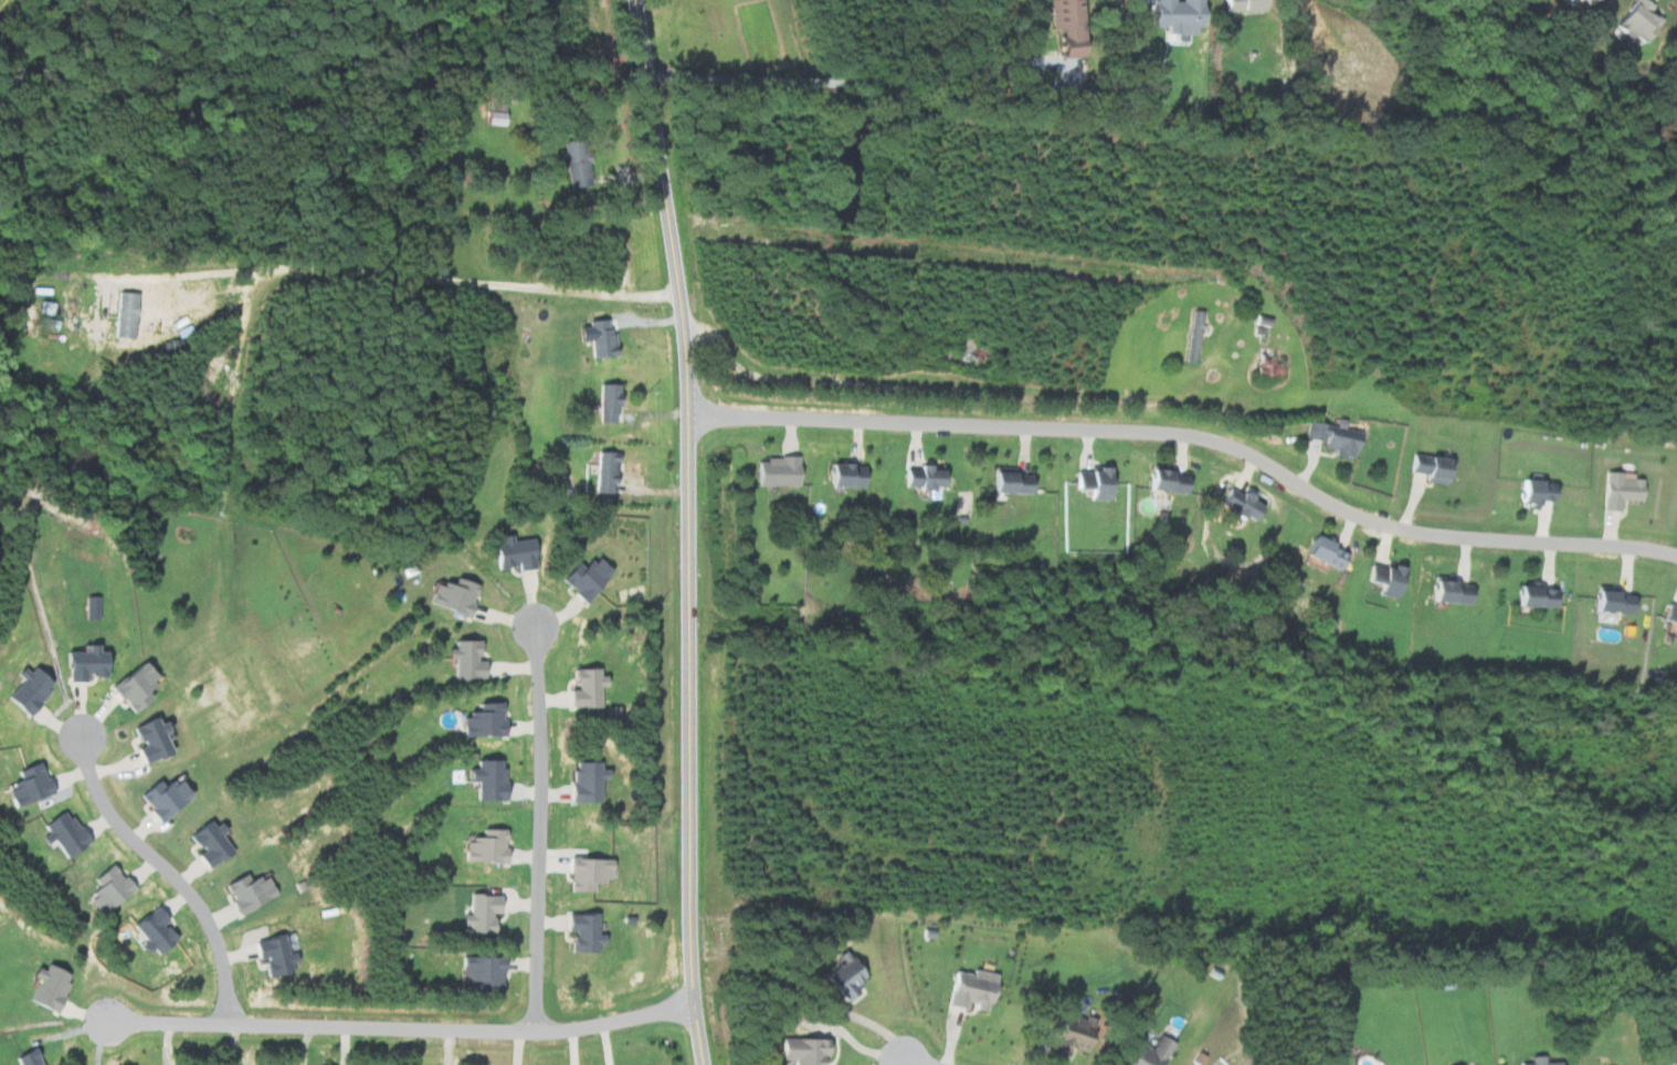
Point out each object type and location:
building: (1579, 1)
building: (1238, 6)
building: (1175, 15)
building: (1635, 20)
building: (1065, 27)
road: (857, 81)
building: (494, 118)
building: (576, 164)
road: (297, 268)
road: (202, 275)
building: (122, 316)
building: (598, 339)
building: (966, 357)
building: (1267, 366)
building: (604, 401)
road: (1192, 435)
building: (1331, 437)
building: (1427, 466)
building: (607, 471)
building: (774, 471)
building: (843, 475)
building: (919, 476)
building: (1164, 481)
building: (1009, 482)
building: (1093, 482)
building: (1618, 489)
building: (1533, 491)
building: (1236, 503)
road: (686, 530)
building: (1321, 551)
building: (515, 552)
building: (587, 578)
building: (1381, 578)
building: (1446, 590)
building: (454, 595)
building: (1532, 595)
building: (1611, 601)
building: (1669, 616)
building: (466, 658)
building: (84, 663)
building: (131, 687)
building: (588, 687)
building: (24, 688)
building: (478, 720)
building: (149, 739)
building: (483, 778)
building: (582, 780)
building: (23, 785)
building: (164, 798)
road: (534, 829)
building: (61, 832)
building: (207, 843)
building: (481, 846)
road: (161, 871)
building: (583, 873)
building: (104, 888)
building: (244, 890)
building: (477, 913)
building: (149, 929)
building: (580, 931)
building: (271, 953)
building: (479, 970)
building: (43, 987)
building: (970, 989)
road: (401, 1029)
building: (1066, 1038)
building: (800, 1050)
building: (1148, 1052)
building: (23, 1057)
building: (1662, 1059)
building: (1537, 1061)
road: (911, 1062)

